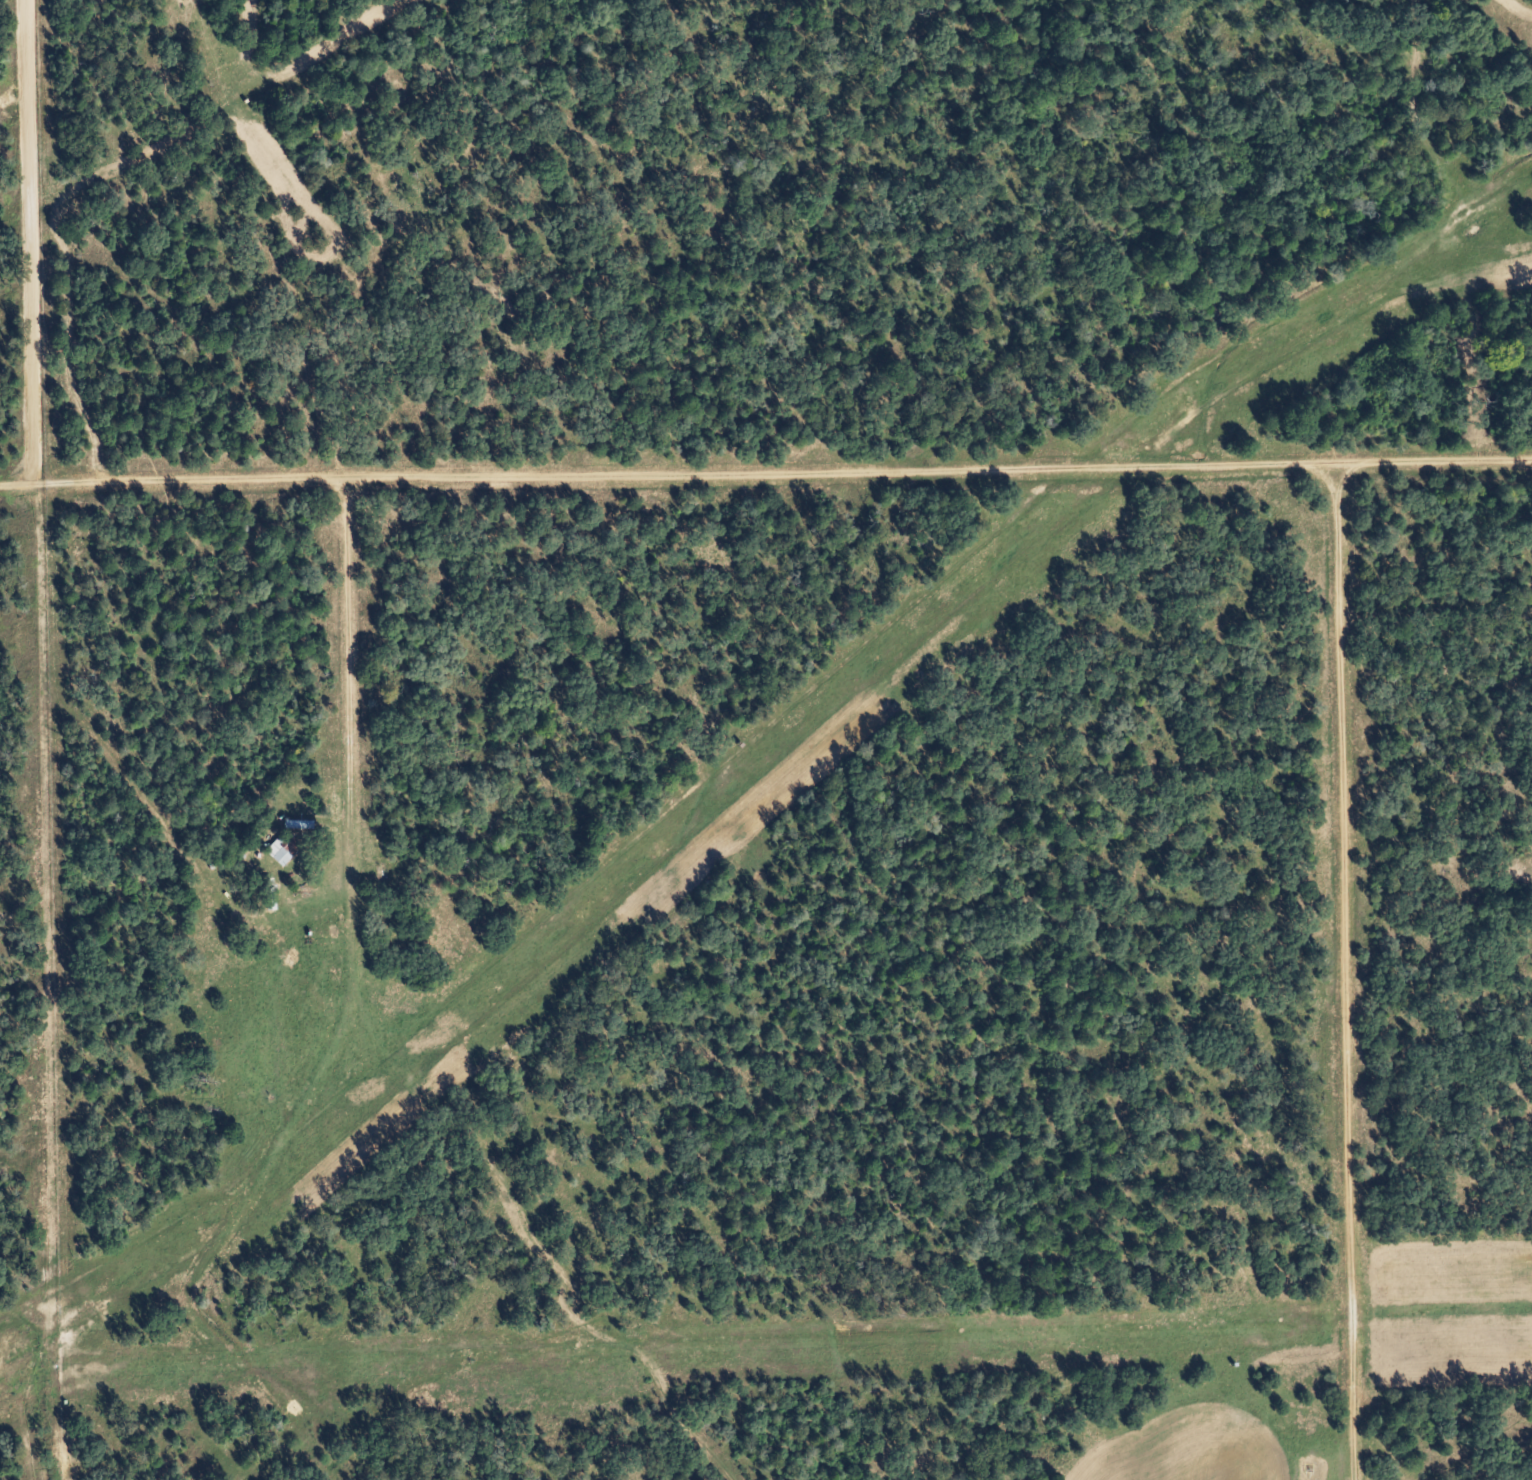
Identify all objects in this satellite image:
road: (765, 473)
road: (352, 720)
building: (282, 850)
building: (264, 894)
road: (1346, 972)
road: (1442, 1304)

